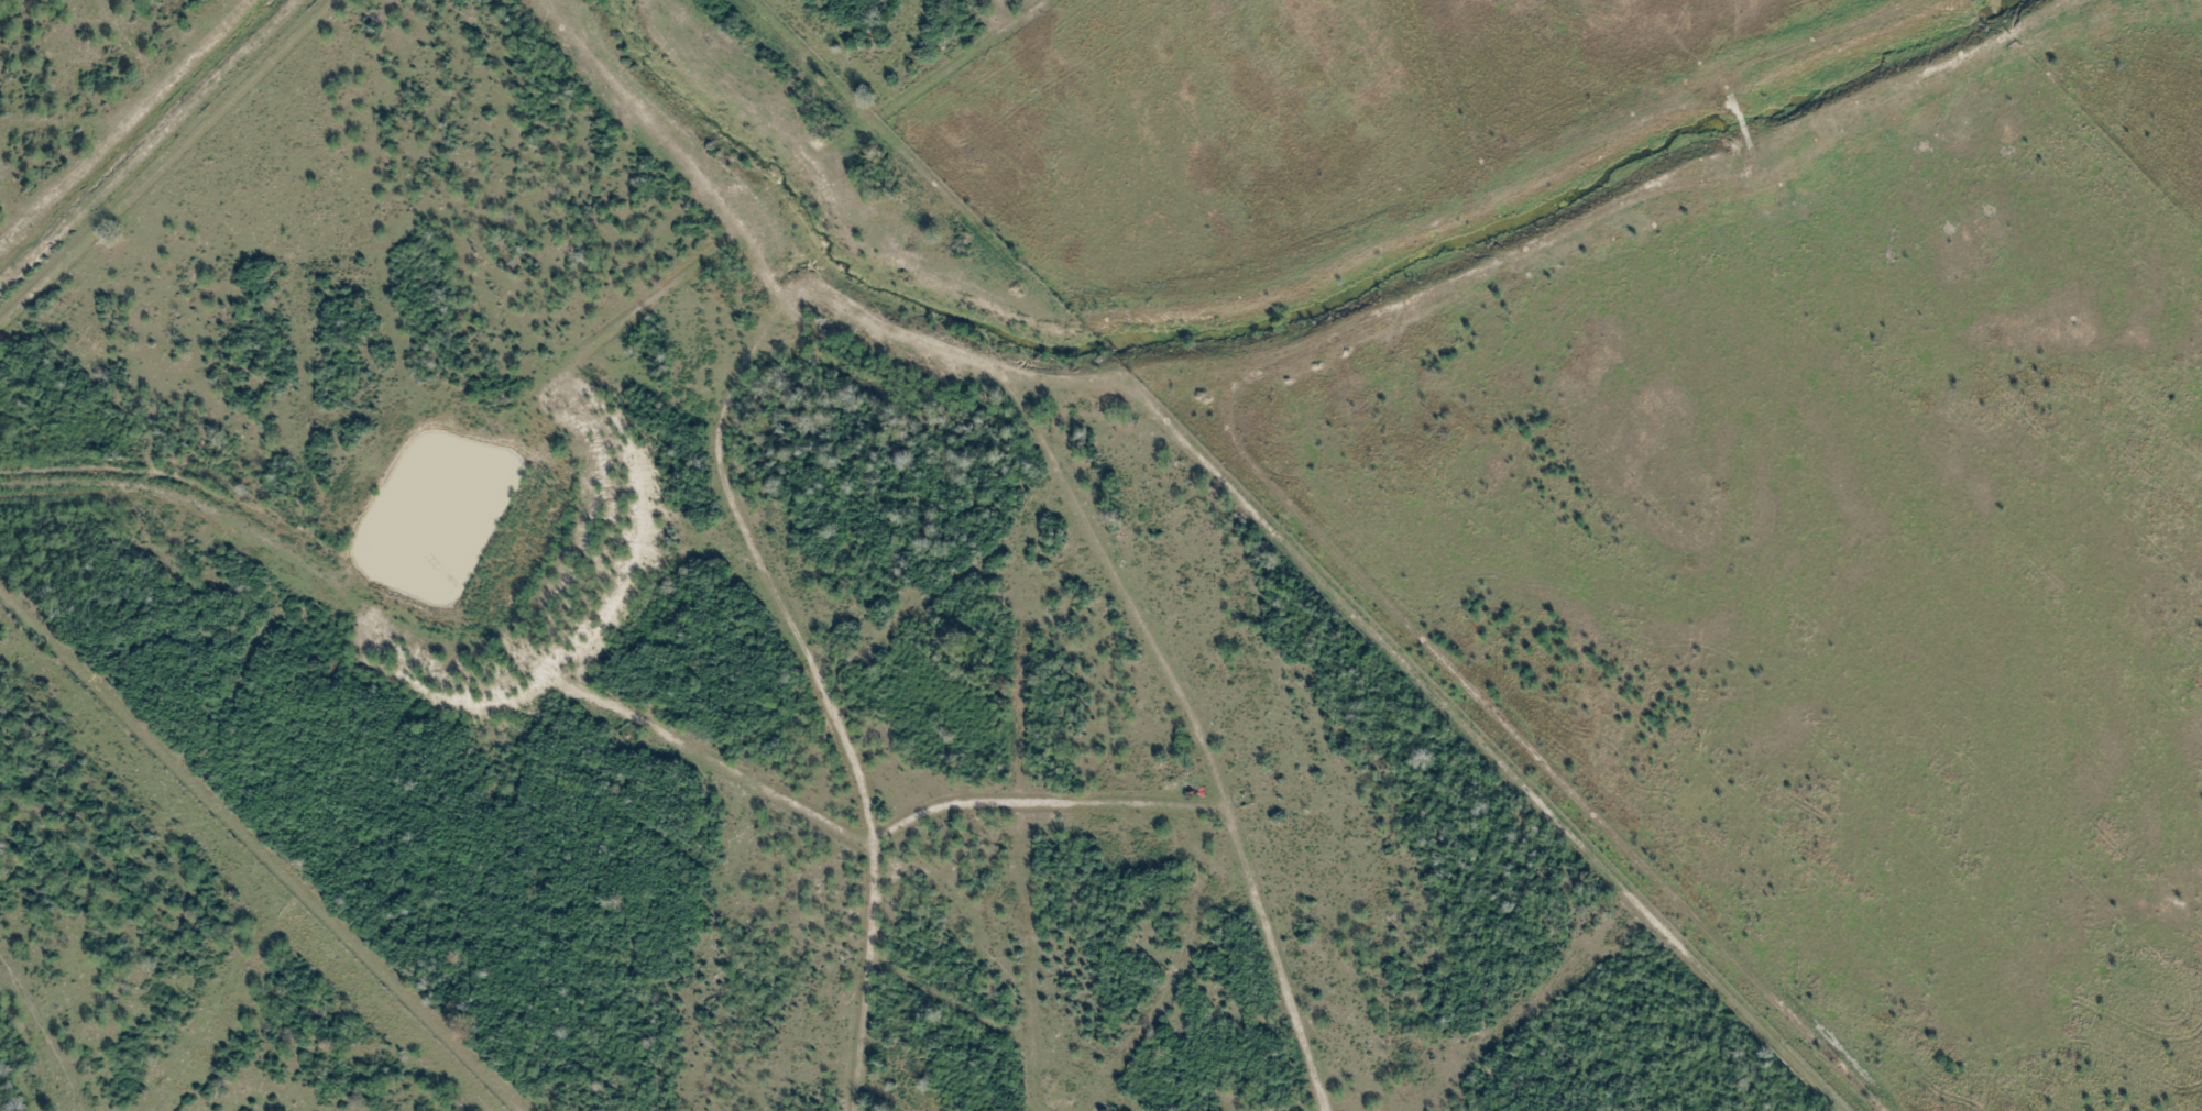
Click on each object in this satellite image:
road: (1812, 34)

